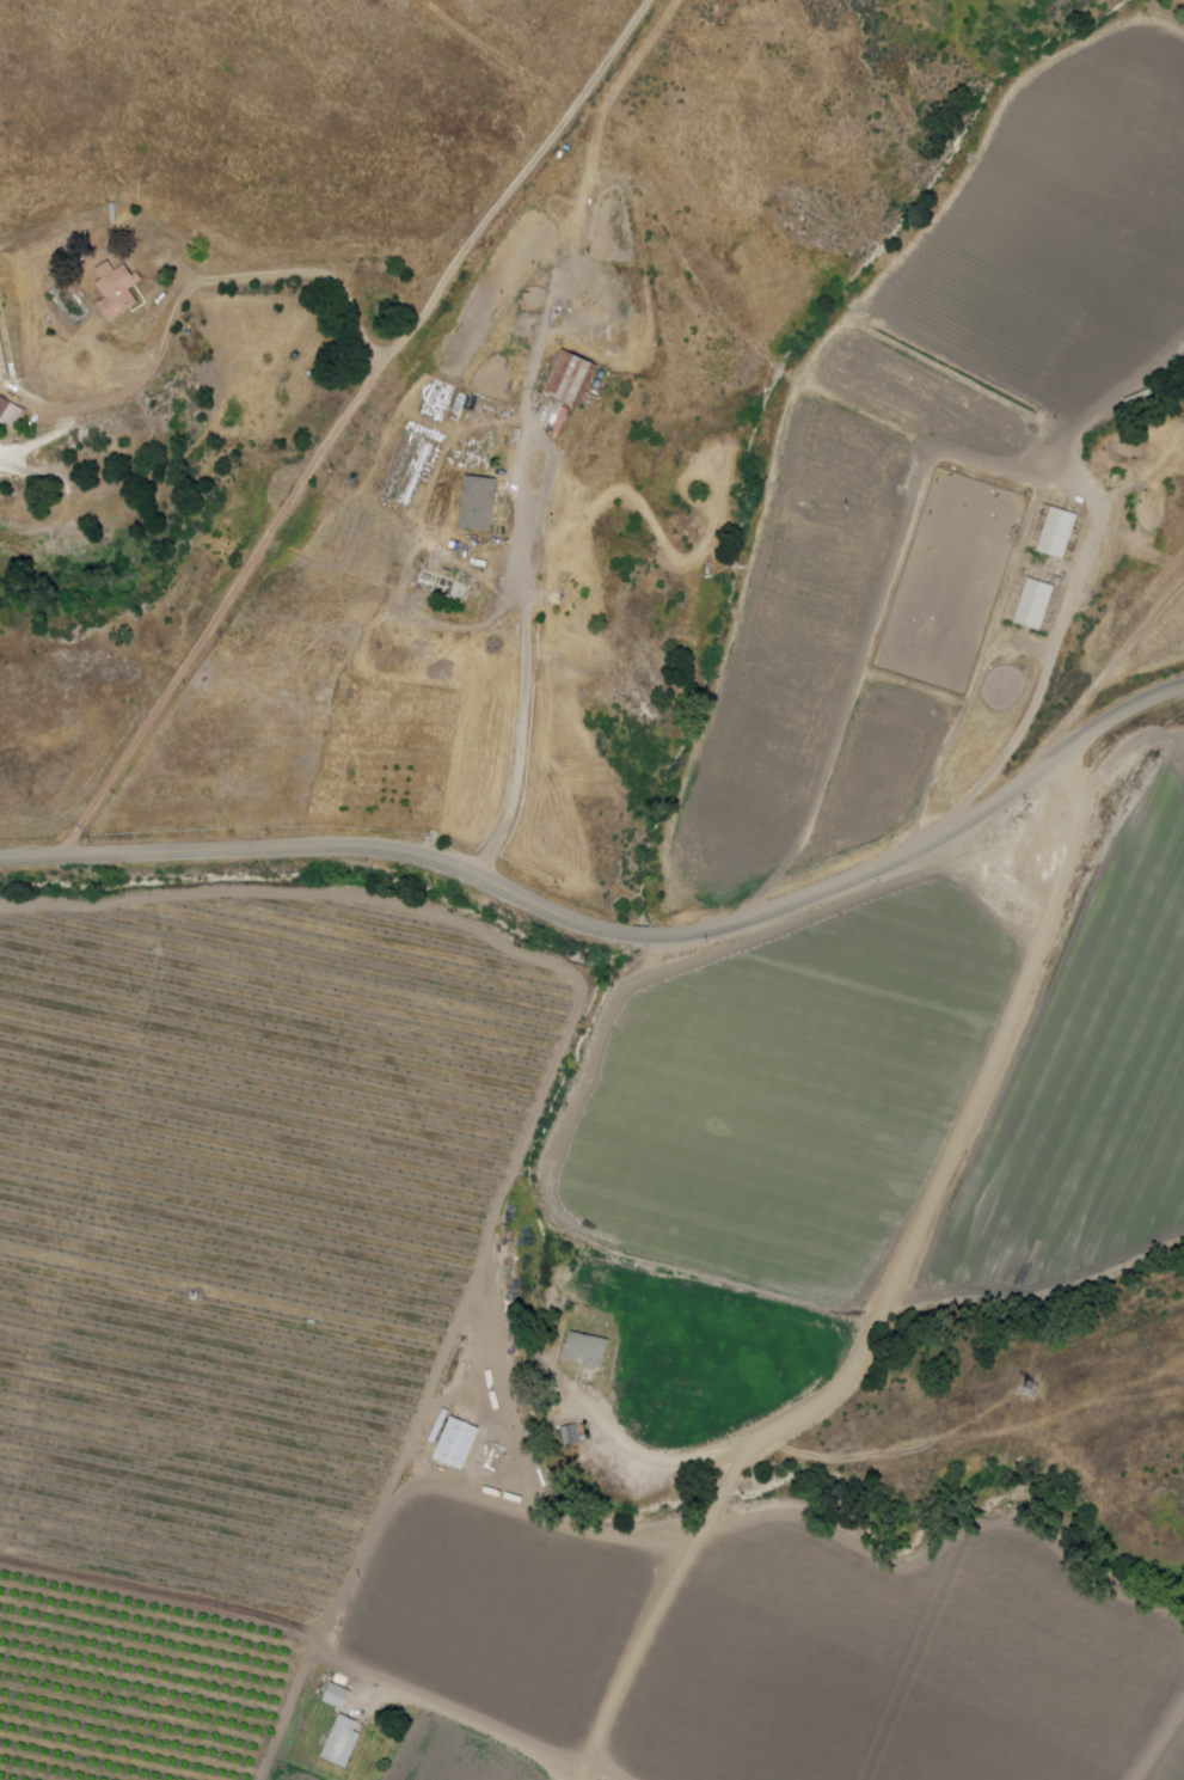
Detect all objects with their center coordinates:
road: (191, 286)
building: (117, 290)
building: (2, 362)
building: (573, 379)
building: (10, 412)
road: (343, 422)
crop: (938, 442)
building: (480, 506)
building: (1060, 533)
building: (1036, 604)
road: (529, 610)
building: (576, 628)
road: (1059, 643)
road: (1102, 679)
road: (1111, 718)
road: (320, 849)
road: (858, 874)
road: (638, 936)
road: (546, 1081)
crop: (1086, 1084)
crop: (787, 1090)
road: (930, 1210)
crop: (239, 1223)
building: (587, 1347)
crop: (708, 1353)
power tower: (1039, 1393)
building: (575, 1436)
building: (458, 1437)
road: (400, 1498)
road: (947, 1554)
crop: (503, 1613)
road: (321, 1643)
road: (643, 1652)
crop: (896, 1665)
building: (336, 1694)
road: (470, 1723)
road: (1152, 1731)
building: (341, 1739)
crop: (1170, 1758)

